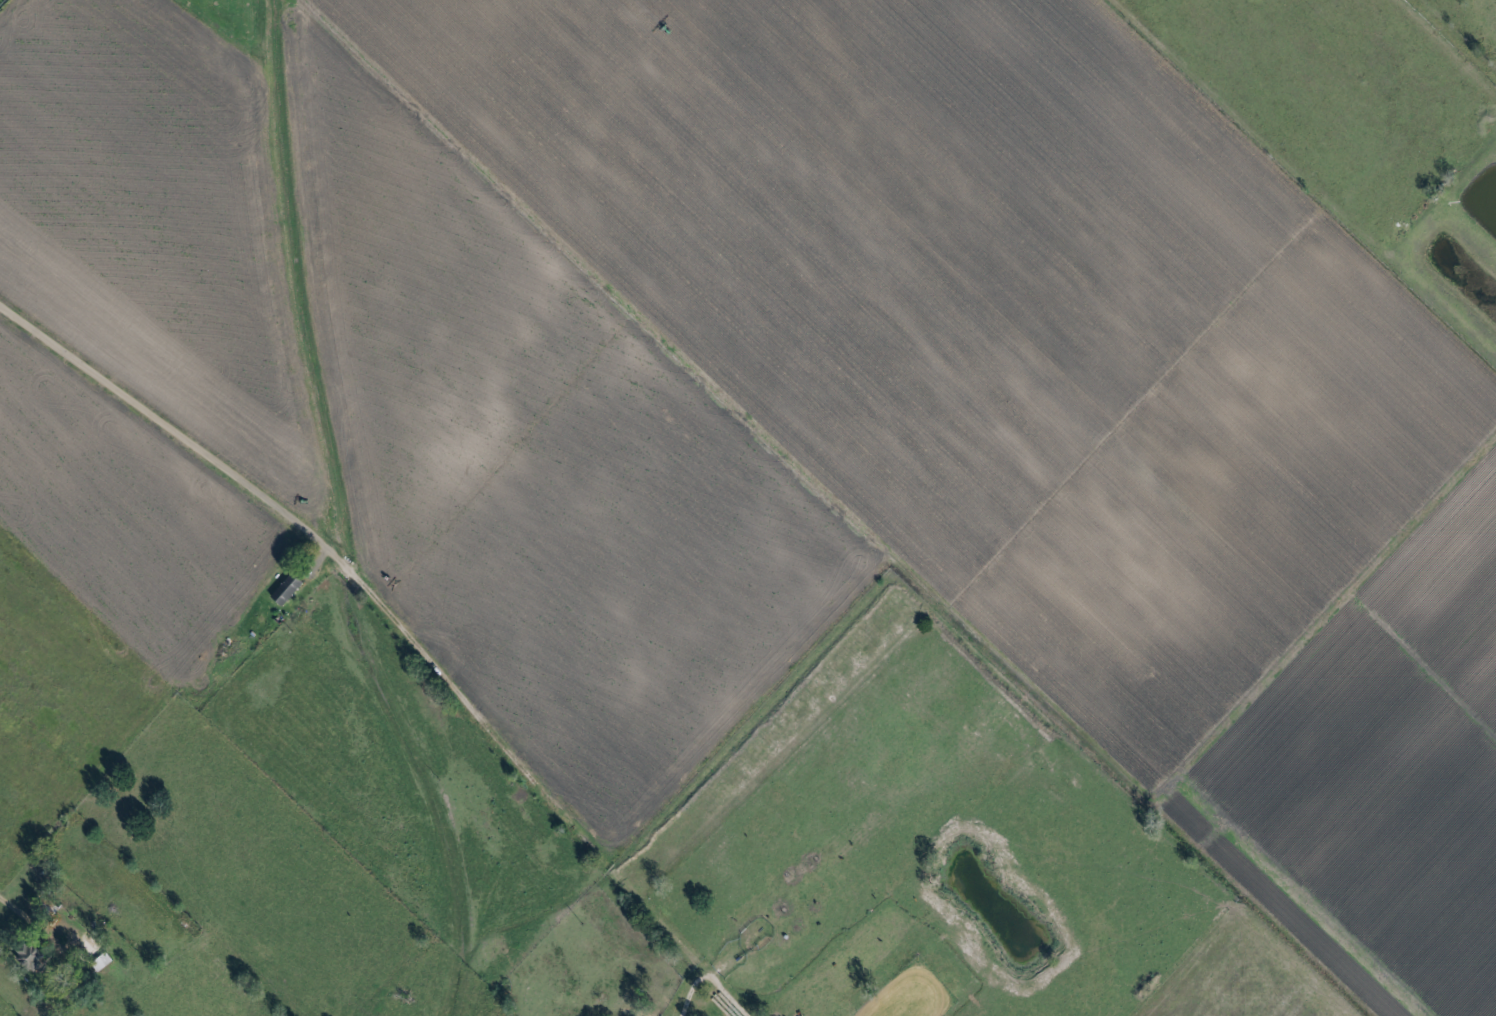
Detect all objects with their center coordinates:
road: (1372, 110)
road: (1271, 280)
building: (288, 588)
road: (394, 627)
road: (14, 909)
building: (34, 956)
road: (690, 991)

